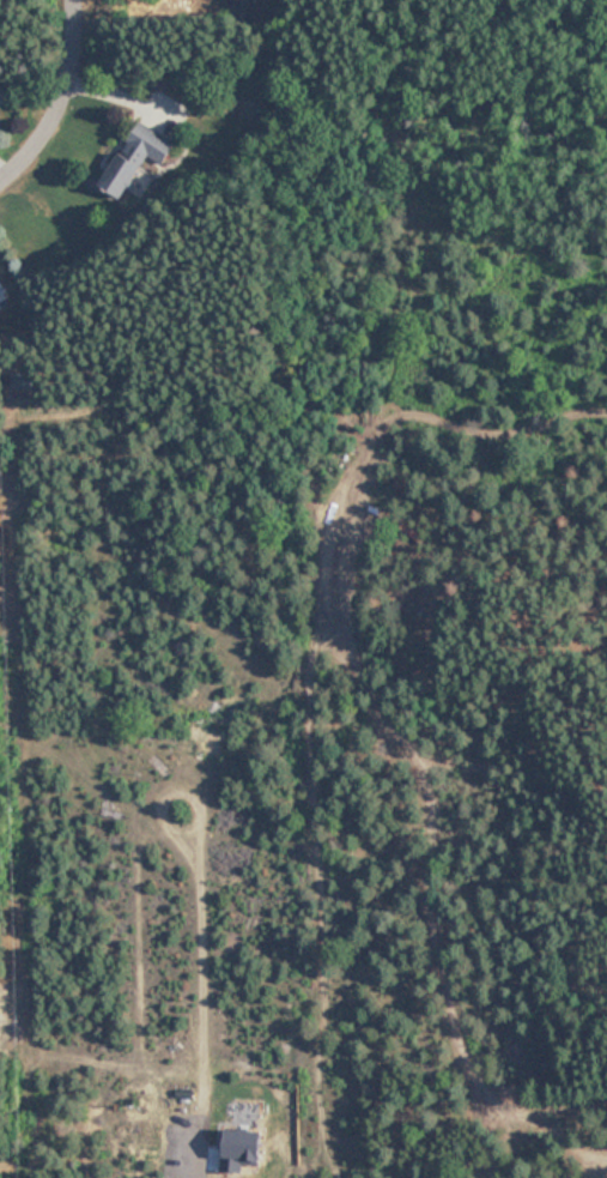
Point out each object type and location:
road: (61, 101)
building: (136, 156)
building: (22, 380)
building: (166, 739)
road: (164, 997)

